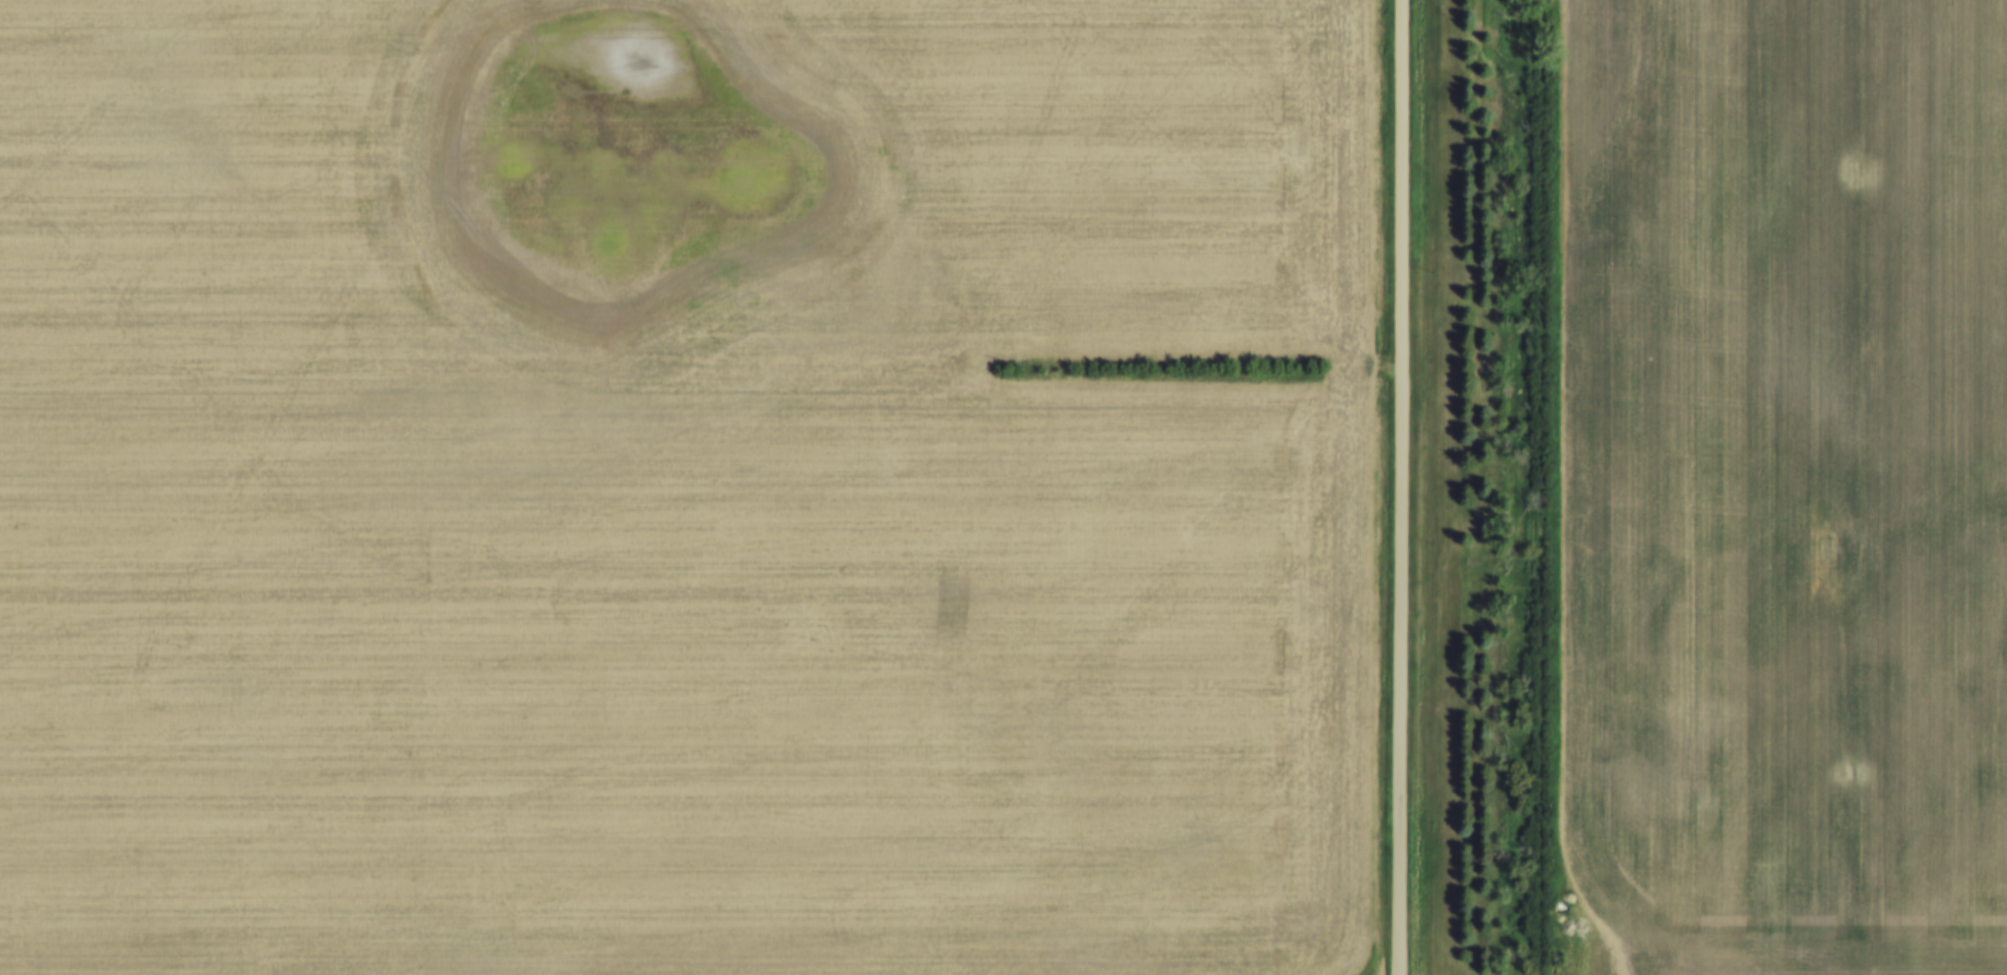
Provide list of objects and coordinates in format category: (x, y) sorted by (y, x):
road: (1400, 487)

